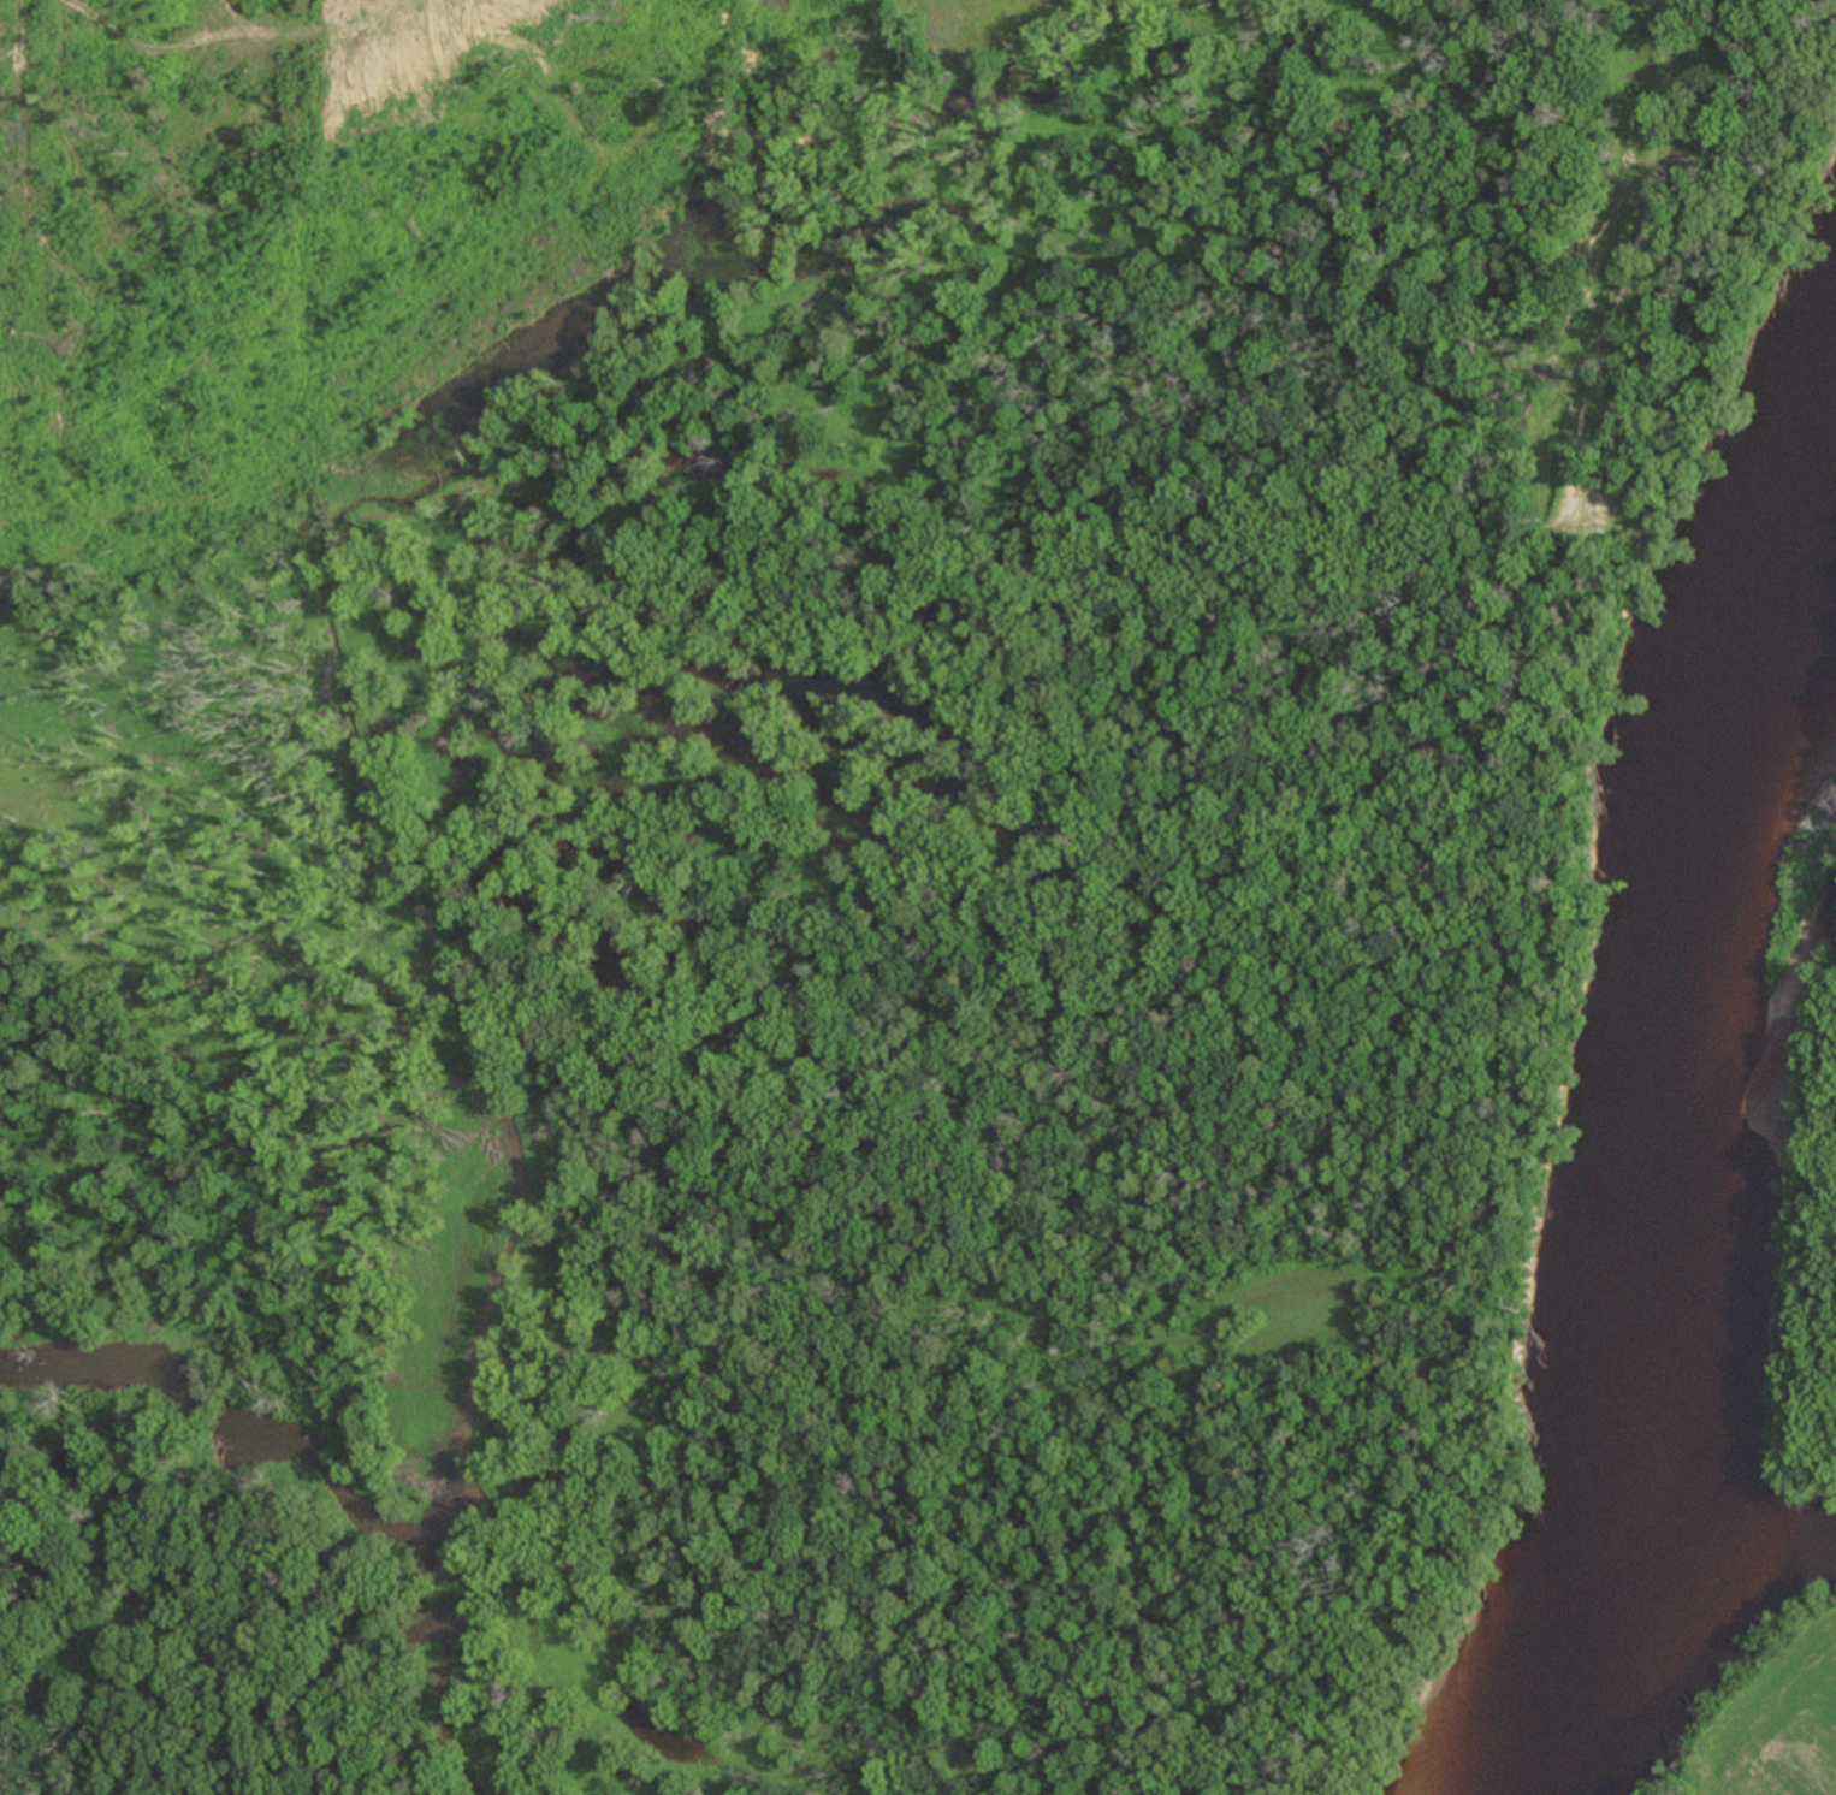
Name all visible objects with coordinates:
river: (1702, 1115)

